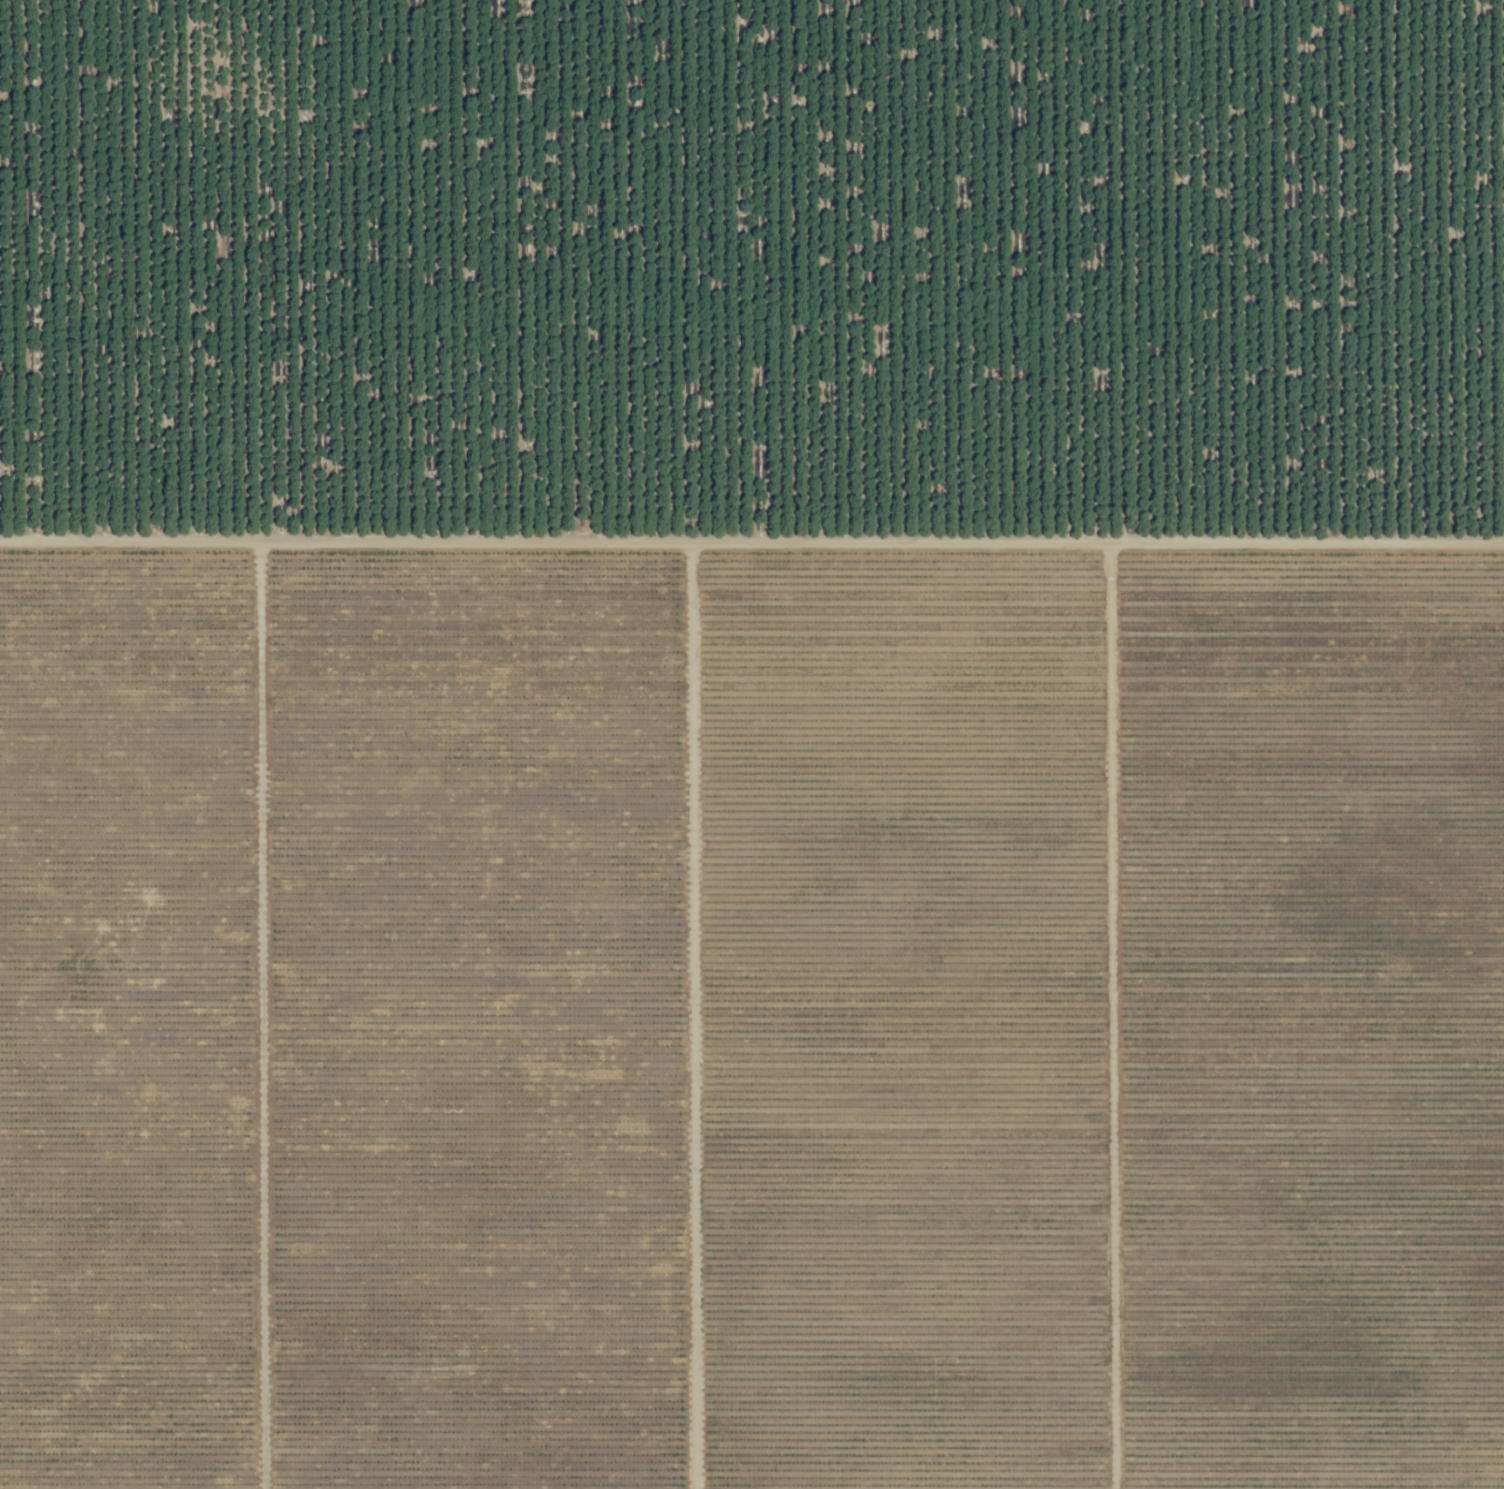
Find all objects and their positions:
road: (752, 532)
crop: (752, 744)

